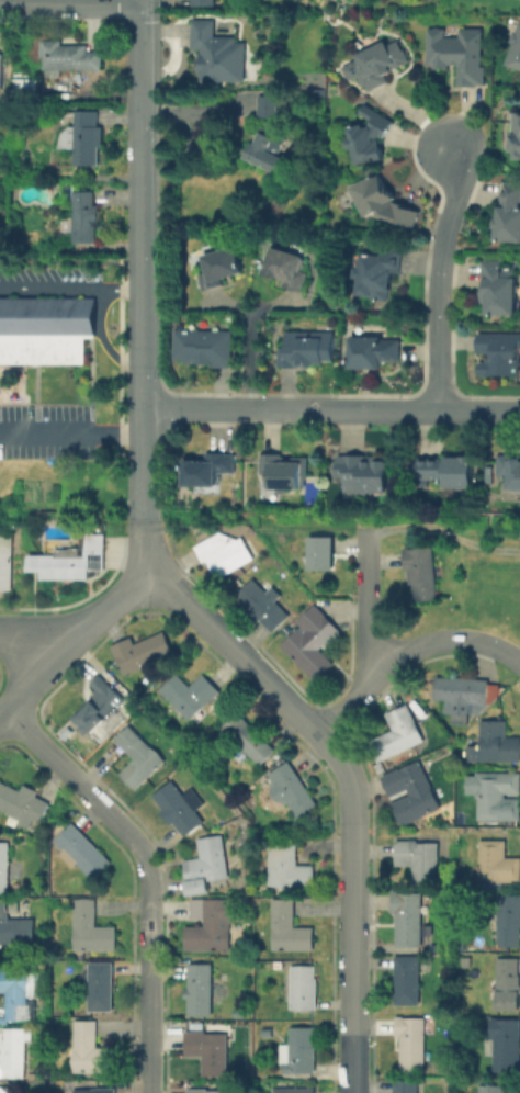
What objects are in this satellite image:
road: (71, 1)
building: (205, 2)
building: (515, 52)
building: (216, 55)
building: (459, 57)
building: (71, 58)
building: (376, 65)
building: (0, 70)
building: (26, 84)
building: (267, 104)
road: (143, 131)
building: (371, 137)
building: (517, 138)
building: (88, 140)
building: (264, 148)
building: (385, 202)
building: (510, 216)
building: (83, 222)
road: (71, 260)
building: (219, 269)
building: (289, 270)
building: (381, 272)
road: (437, 278)
road: (71, 288)
building: (501, 291)
building: (45, 328)
road: (144, 336)
building: (204, 349)
building: (309, 351)
building: (376, 356)
building: (500, 356)
road: (249, 361)
road: (331, 410)
road: (71, 436)
building: (208, 471)
building: (450, 471)
building: (510, 474)
building: (287, 476)
building: (366, 477)
road: (144, 495)
building: (325, 553)
building: (225, 554)
building: (74, 561)
building: (7, 563)
building: (423, 572)
building: (264, 605)
road: (368, 607)
building: (287, 630)
road: (34, 632)
road: (68, 641)
building: (313, 642)
road: (407, 650)
building: (143, 652)
building: (190, 695)
building: (467, 696)
building: (101, 706)
building: (400, 734)
building: (246, 740)
building: (496, 744)
building: (139, 757)
building: (293, 789)
road: (351, 791)
building: (415, 792)
building: (499, 796)
building: (24, 804)
building: (182, 808)
building: (58, 823)
building: (219, 823)
building: (82, 850)
building: (419, 861)
building: (499, 864)
building: (208, 866)
building: (290, 867)
building: (5, 868)
road: (145, 872)
building: (242, 906)
building: (410, 919)
building: (509, 921)
building: (213, 925)
building: (15, 927)
building: (292, 928)
building: (92, 931)
building: (439, 949)
building: (470, 961)
building: (280, 965)
building: (223, 978)
building: (410, 981)
building: (510, 984)
building: (102, 985)
building: (202, 987)
building: (305, 988)
building: (221, 991)
building: (16, 996)
building: (240, 1012)
building: (268, 1034)
building: (414, 1043)
building: (506, 1045)
building: (92, 1050)
building: (208, 1051)
building: (301, 1051)
building: (14, 1052)
building: (445, 1071)
building: (48, 1073)
building: (37, 1077)
building: (407, 1086)
building: (495, 1089)
building: (4, 1091)
building: (97, 1091)
building: (203, 1091)
building: (296, 1091)

